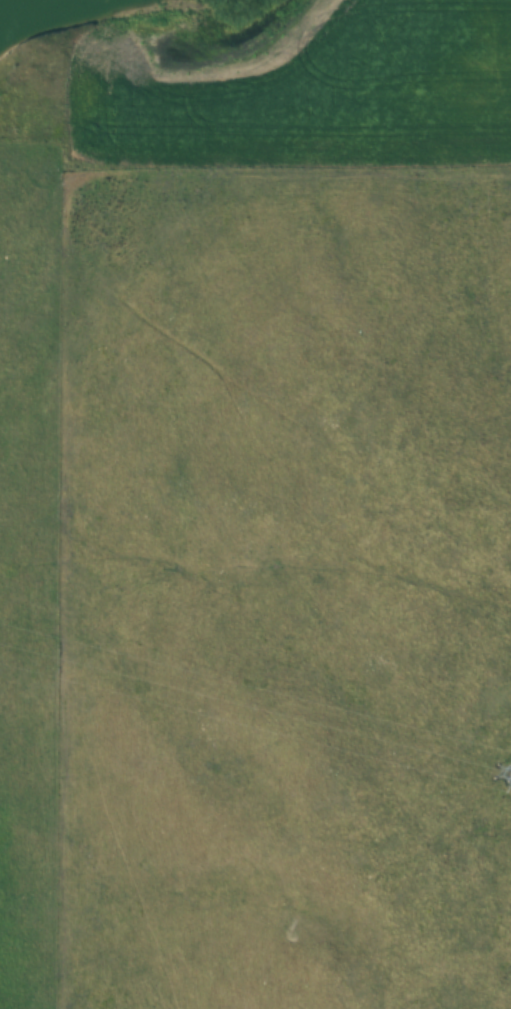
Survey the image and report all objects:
power tower: (510, 775)

